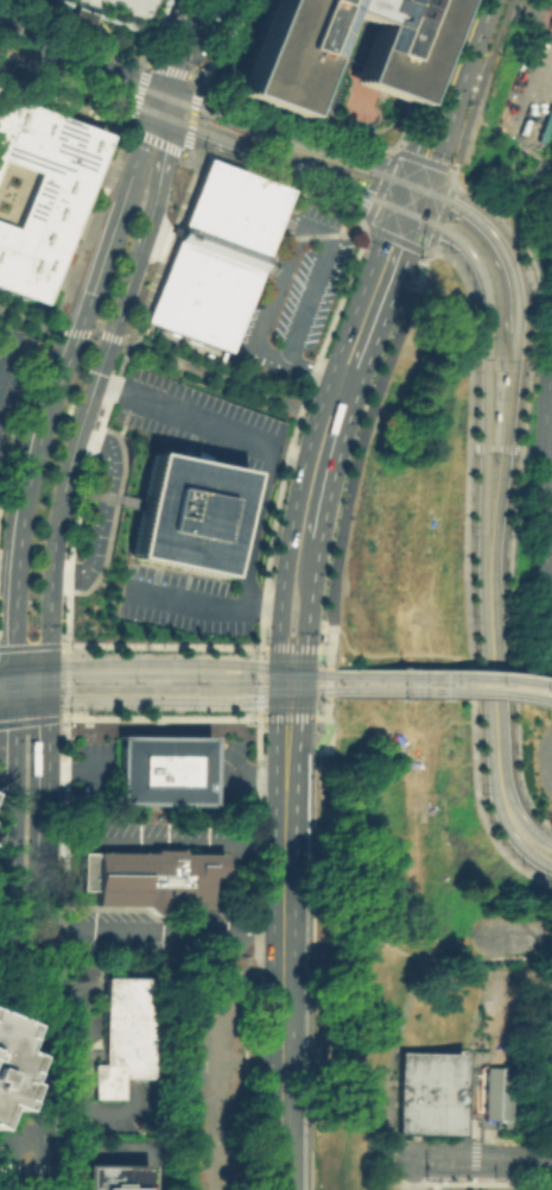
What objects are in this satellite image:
road: (0, 2)
road: (513, 2)
building: (123, 12)
parking lot: (123, 12)
road: (45, 17)
building: (80, 18)
road: (80, 18)
road: (104, 39)
road: (182, 44)
building: (392, 52)
road: (82, 57)
road: (166, 70)
road: (476, 83)
road: (78, 89)
traffic signals: (166, 89)
road: (445, 89)
road: (534, 90)
parking lot: (527, 93)
road: (161, 103)
road: (191, 115)
traffic signals: (158, 120)
road: (229, 131)
road: (290, 136)
road: (214, 141)
road: (159, 143)
road: (392, 147)
road: (526, 149)
road: (134, 163)
road: (449, 168)
road: (386, 170)
road: (108, 176)
road: (451, 176)
road: (310, 177)
road: (277, 178)
traffic signals: (415, 182)
road: (451, 184)
road: (526, 188)
building: (37, 190)
road: (410, 197)
road: (376, 202)
road: (546, 206)
traffic signals: (405, 214)
road: (439, 214)
road: (147, 220)
road: (363, 223)
road: (496, 235)
road: (400, 240)
road: (427, 247)
road: (423, 250)
building: (214, 254)
road: (74, 275)
railway: (513, 279)
road: (5, 309)
railway: (488, 313)
road: (37, 322)
road: (88, 333)
road: (147, 350)
road: (8, 354)
road: (288, 360)
railway: (495, 369)
road: (202, 370)
parking lot: (13, 371)
road: (322, 373)
road: (360, 374)
road: (246, 386)
road: (109, 392)
road: (285, 402)
road: (310, 432)
road: (43, 433)
road: (292, 433)
road: (551, 436)
railway: (494, 440)
road: (255, 443)
road: (493, 445)
road: (74, 446)
road: (493, 448)
road: (356, 449)
road: (512, 495)
road: (100, 509)
building: (185, 511)
road: (112, 512)
road: (477, 537)
road: (7, 567)
road: (467, 569)
road: (496, 593)
road: (202, 604)
road: (307, 605)
road: (49, 619)
road: (28, 644)
road: (160, 644)
road: (291, 646)
road: (323, 648)
road: (393, 654)
road: (307, 659)
traffic signals: (47, 661)
road: (30, 662)
road: (6, 665)
traffic signals: (13, 665)
traffic signals: (288, 667)
railway: (220, 673)
railway: (496, 676)
road: (64, 680)
road: (46, 681)
road: (258, 681)
road: (13, 685)
railway: (220, 687)
railway: (496, 691)
road: (326, 692)
traffic signals: (287, 695)
traffic signals: (46, 701)
road: (30, 703)
road: (305, 704)
road: (6, 705)
traffic signals: (13, 705)
road: (64, 712)
road: (256, 713)
road: (286, 714)
road: (61, 716)
road: (160, 716)
road: (286, 716)
road: (319, 716)
road: (259, 717)
road: (28, 720)
road: (324, 741)
road: (309, 750)
road: (544, 762)
building: (160, 768)
road: (71, 769)
road: (46, 777)
road: (164, 840)
building: (148, 879)
road: (46, 892)
road: (547, 903)
road: (360, 927)
road: (164, 931)
road: (521, 936)
road: (6, 943)
road: (11, 947)
road: (483, 947)
road: (61, 952)
road: (248, 952)
road: (433, 958)
road: (317, 970)
road: (280, 976)
building: (123, 1032)
road: (392, 1056)
road: (45, 1059)
road: (76, 1073)
building: (426, 1091)
building: (494, 1093)
building: (551, 1104)
road: (5, 1134)
road: (27, 1134)
road: (120, 1148)
parking lot: (520, 1148)
road: (399, 1160)
road: (445, 1161)
road: (518, 1163)
building: (112, 1177)
road: (413, 1179)
building: (534, 1188)

